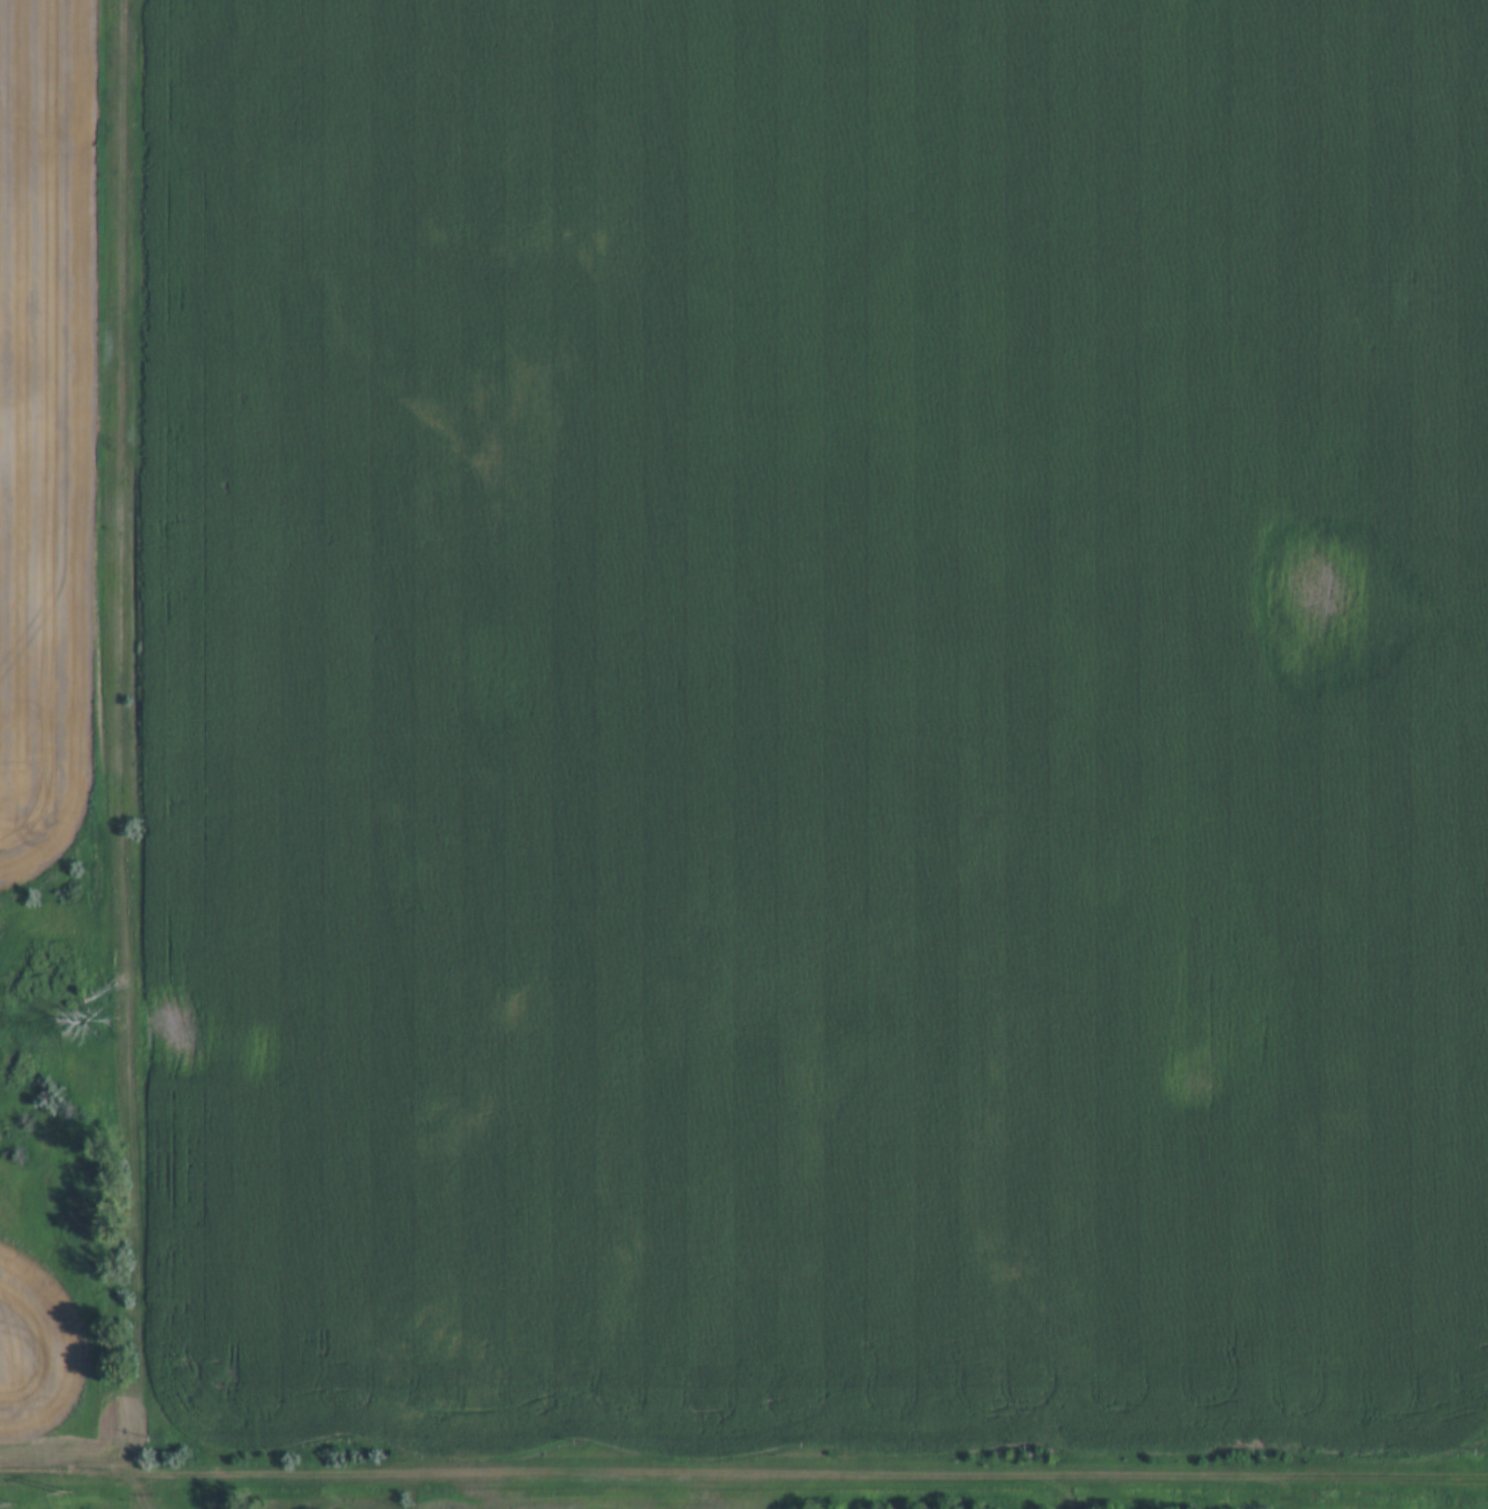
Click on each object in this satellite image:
road: (126, 736)
road: (67, 1475)
road: (811, 1476)
road: (135, 1491)

